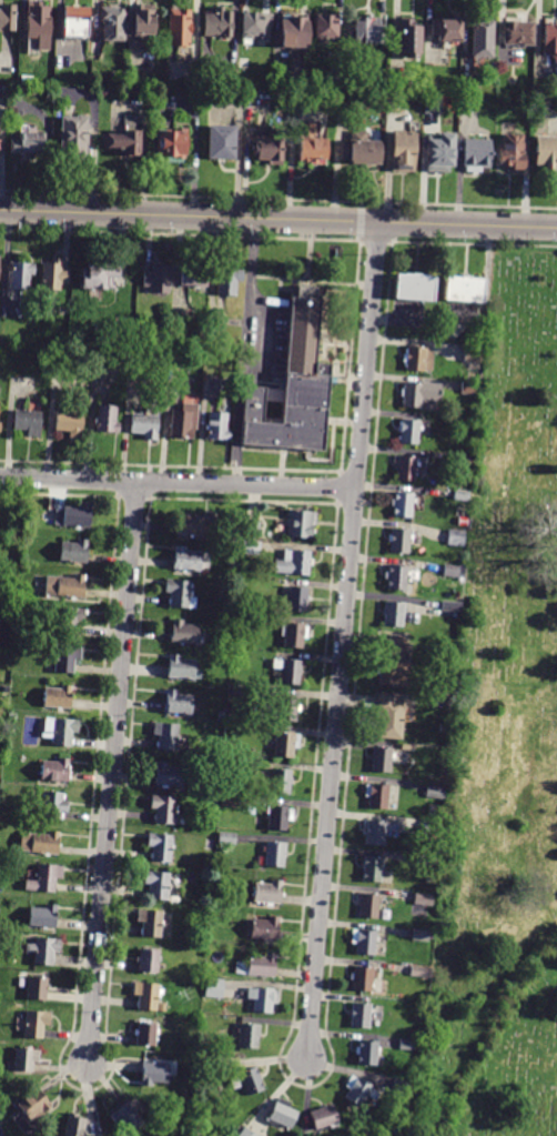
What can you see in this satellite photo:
building: (6, 16)
building: (38, 20)
building: (141, 20)
building: (216, 22)
building: (75, 23)
building: (111, 23)
building: (254, 24)
building: (324, 24)
building: (179, 27)
building: (445, 28)
building: (366, 29)
building: (292, 30)
building: (517, 32)
building: (407, 38)
building: (482, 38)
building: (549, 38)
building: (335, 73)
building: (399, 84)
building: (466, 88)
building: (395, 104)
building: (433, 104)
building: (470, 105)
building: (509, 129)
building: (73, 137)
building: (26, 142)
building: (122, 142)
building: (221, 142)
building: (169, 145)
building: (359, 149)
building: (267, 150)
building: (313, 150)
building: (401, 150)
building: (510, 151)
building: (545, 152)
building: (438, 153)
building: (476, 154)
road: (277, 219)
building: (20, 275)
building: (54, 275)
building: (97, 275)
building: (194, 275)
building: (156, 278)
building: (229, 281)
building: (415, 288)
building: (464, 289)
building: (303, 325)
road: (244, 352)
building: (473, 354)
building: (419, 361)
building: (468, 389)
building: (418, 394)
building: (253, 404)
building: (296, 410)
building: (105, 419)
building: (27, 421)
building: (69, 423)
building: (472, 423)
building: (143, 424)
building: (180, 424)
building: (217, 426)
building: (408, 432)
building: (465, 459)
building: (404, 468)
road: (176, 483)
building: (462, 495)
building: (402, 504)
building: (73, 515)
building: (192, 524)
building: (300, 524)
building: (251, 529)
building: (456, 537)
building: (399, 541)
building: (251, 547)
building: (73, 551)
building: (185, 559)
building: (293, 563)
building: (453, 571)
building: (396, 576)
building: (64, 585)
building: (180, 593)
building: (296, 597)
building: (449, 610)
building: (393, 614)
building: (69, 620)
building: (183, 632)
building: (290, 635)
road: (343, 641)
building: (235, 653)
building: (65, 659)
building: (394, 660)
building: (182, 667)
building: (288, 671)
building: (239, 692)
building: (57, 696)
building: (178, 703)
building: (286, 708)
building: (221, 715)
building: (388, 717)
building: (445, 727)
building: (58, 730)
building: (165, 735)
park: (503, 741)
building: (285, 743)
building: (381, 760)
building: (53, 770)
road: (111, 771)
building: (168, 775)
building: (280, 781)
building: (227, 787)
building: (215, 788)
building: (435, 791)
building: (377, 795)
building: (230, 802)
building: (52, 805)
building: (163, 808)
building: (277, 817)
building: (433, 827)
building: (374, 833)
building: (227, 838)
building: (40, 843)
building: (160, 846)
building: (274, 854)
building: (426, 863)
building: (371, 868)
building: (44, 878)
building: (156, 884)
building: (267, 892)
building: (424, 898)
building: (368, 906)
building: (42, 916)
building: (150, 922)
building: (265, 928)
building: (421, 935)
building: (363, 941)
building: (42, 949)
building: (149, 961)
building: (257, 966)
building: (421, 972)
building: (361, 978)
building: (36, 988)
building: (214, 988)
building: (145, 995)
building: (262, 998)
building: (358, 1015)
building: (34, 1023)
building: (144, 1034)
building: (249, 1035)
building: (407, 1045)
building: (366, 1052)
building: (23, 1058)
building: (209, 1058)
building: (153, 1074)
building: (249, 1080)
building: (399, 1088)
building: (357, 1090)
building: (31, 1112)
building: (282, 1114)
building: (125, 1117)
building: (323, 1117)
building: (74, 1125)
building: (247, 1133)

